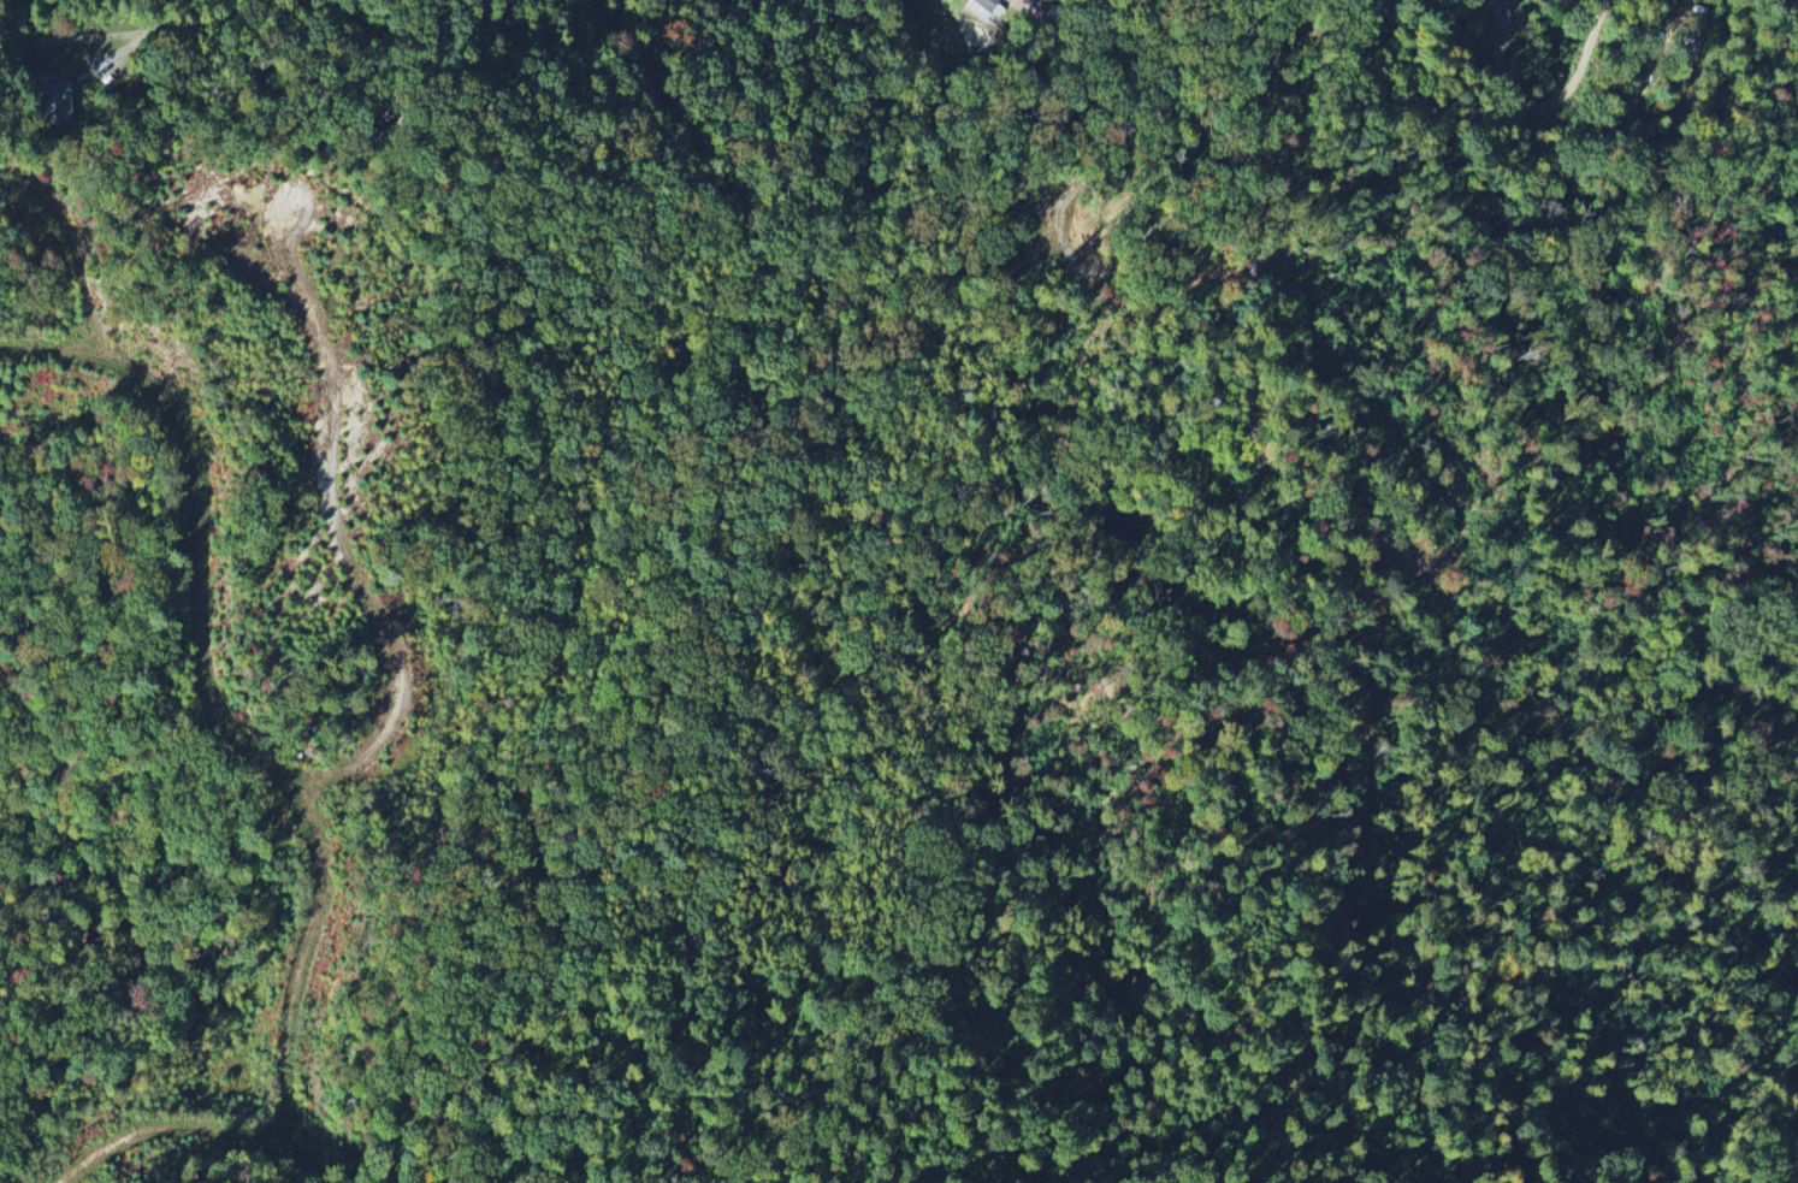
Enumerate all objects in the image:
road: (1791, 13)
road: (181, 26)
road: (1520, 107)
road: (336, 532)
road: (202, 687)
road: (162, 1129)

